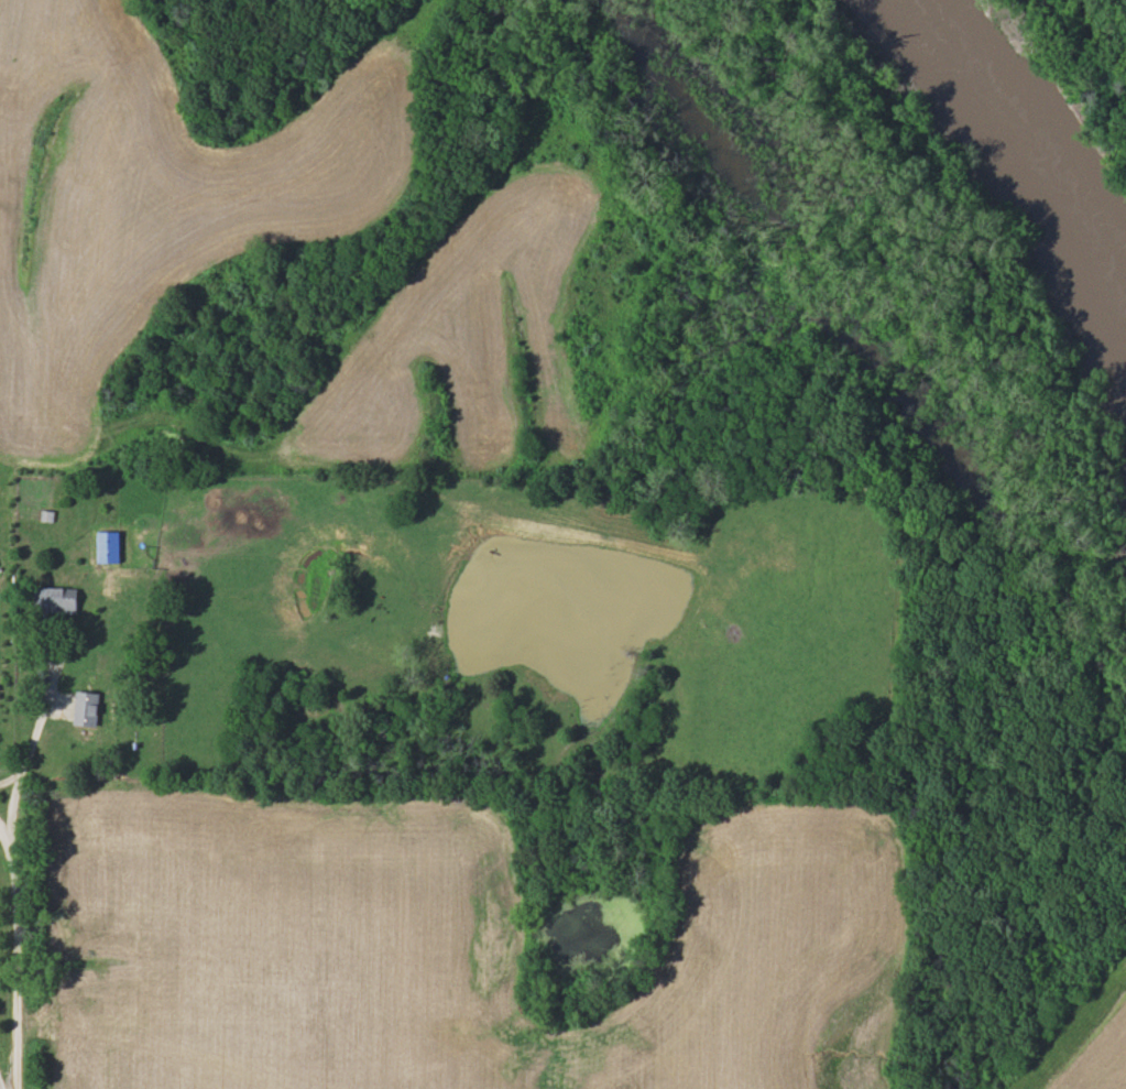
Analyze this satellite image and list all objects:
river: (1043, 202)
building: (44, 516)
building: (105, 545)
building: (53, 599)
building: (85, 707)
road: (34, 736)
road: (15, 958)

